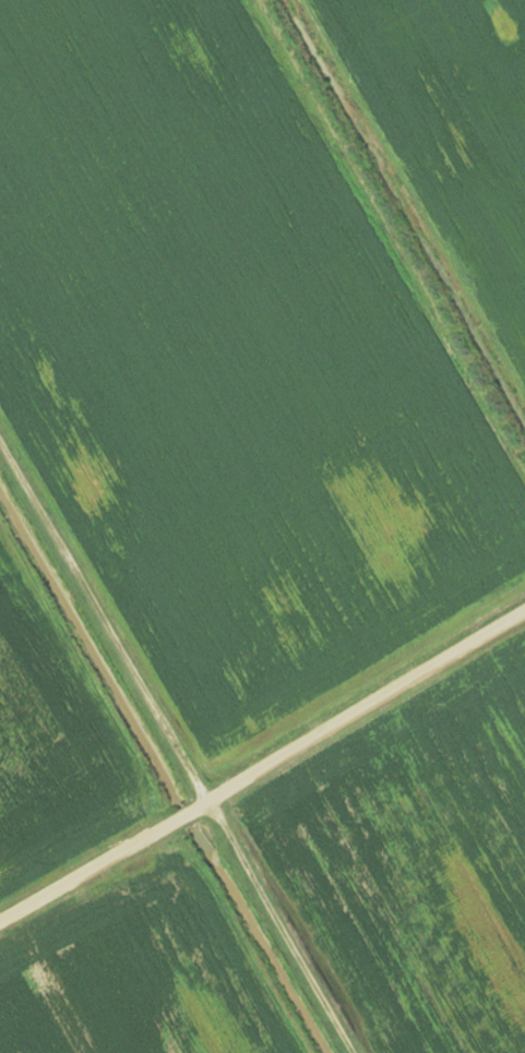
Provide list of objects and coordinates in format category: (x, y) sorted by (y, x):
road: (262, 769)

